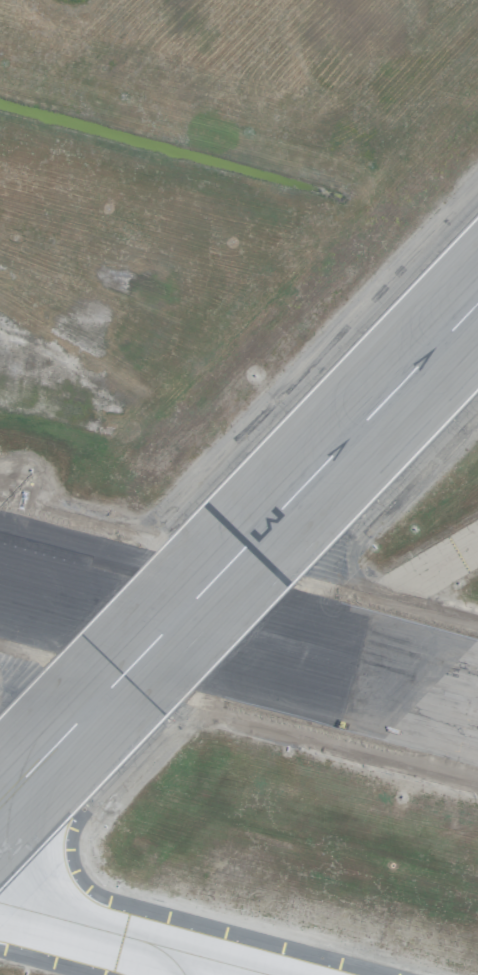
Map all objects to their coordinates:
road: (254, 439)
airport: (239, 487)
airport runway: (239, 557)
airport runway: (239, 640)
airport taxiway: (130, 939)

